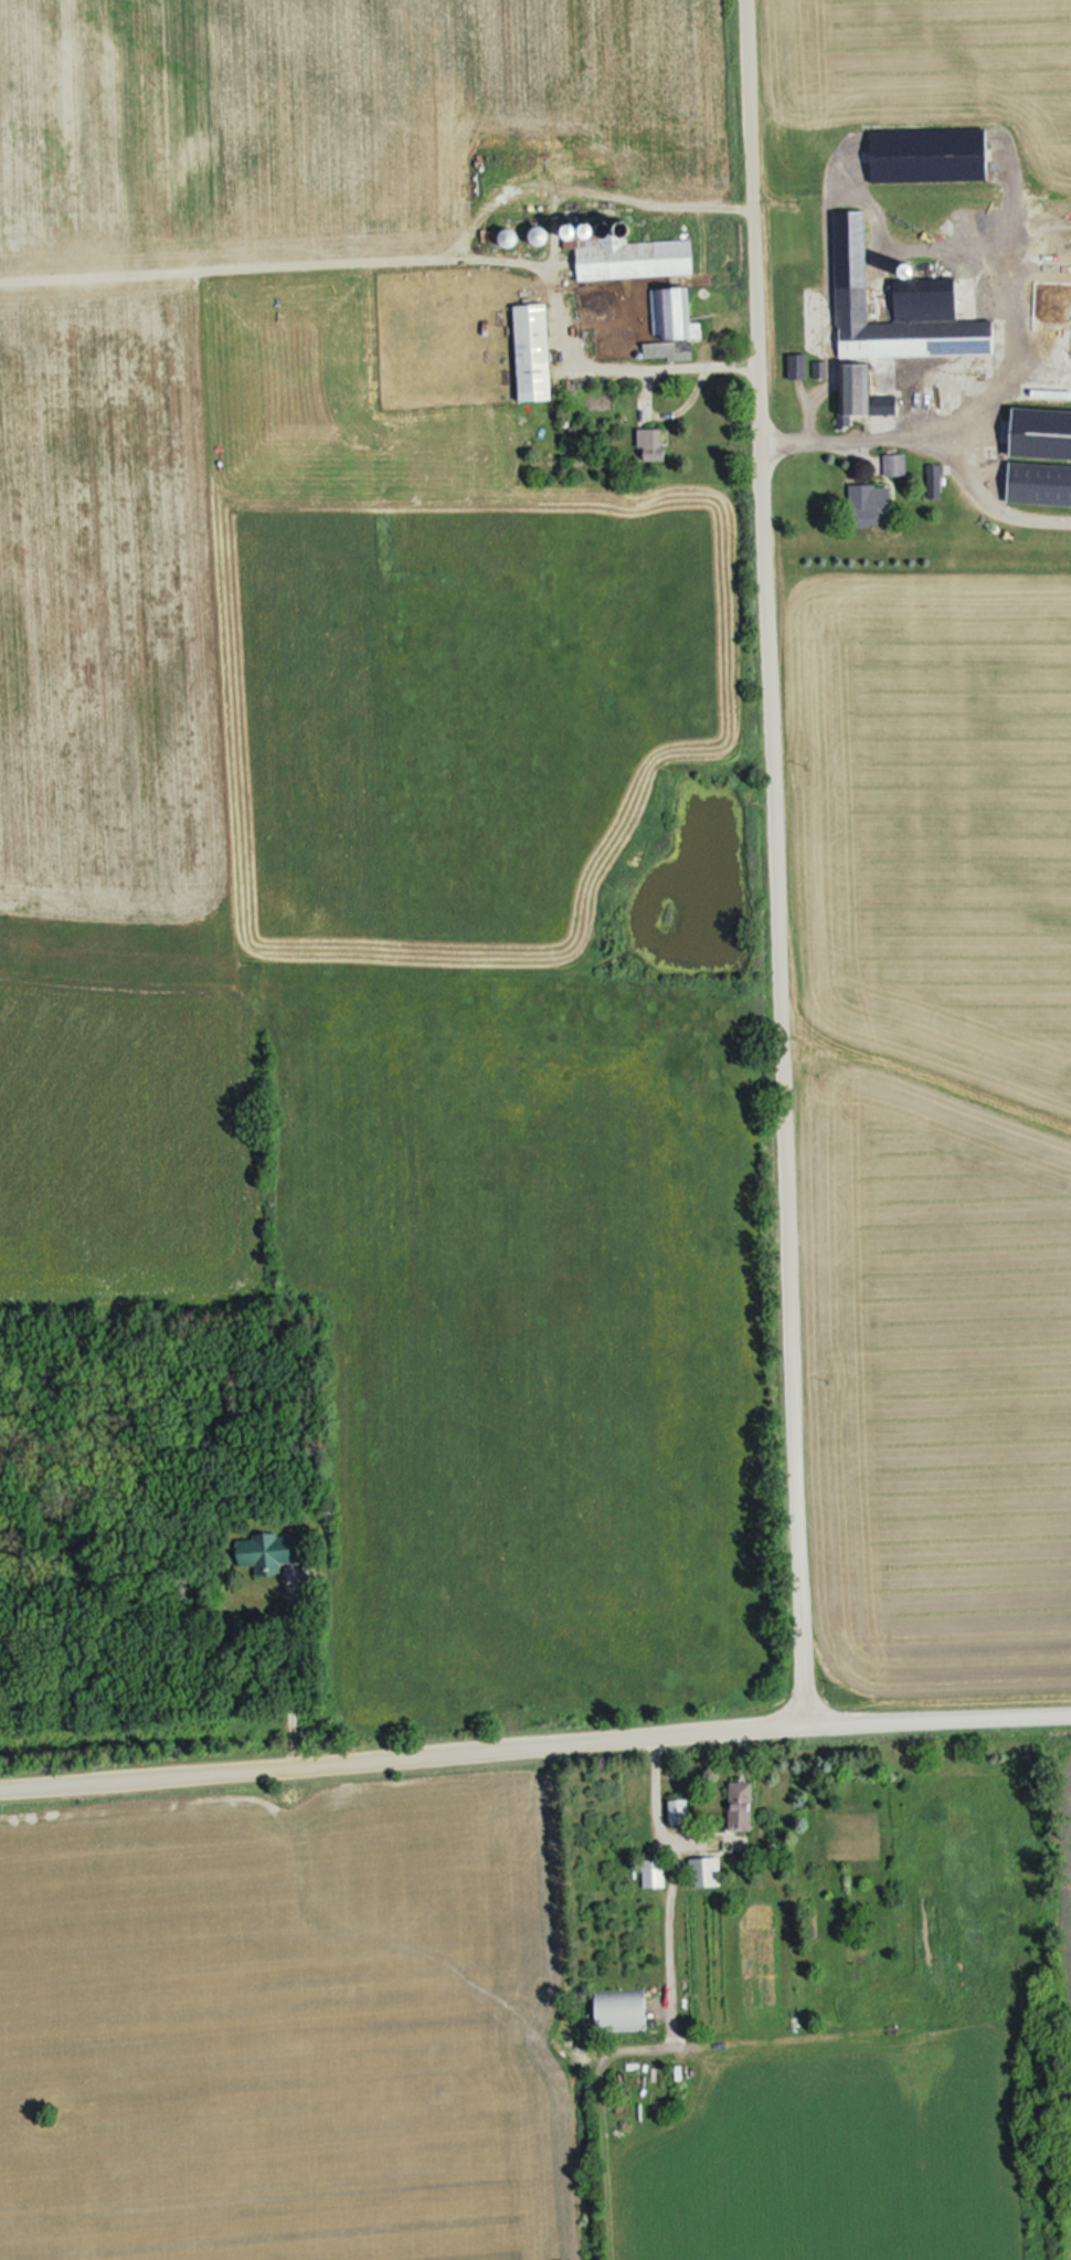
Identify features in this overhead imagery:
building: (634, 256)
building: (925, 289)
building: (674, 314)
building: (905, 331)
building: (668, 348)
building: (533, 351)
building: (797, 365)
building: (867, 389)
building: (653, 444)
building: (1040, 455)
building: (871, 504)
road: (772, 863)
building: (267, 1551)
road: (534, 1739)
building: (740, 1806)
building: (678, 1812)
building: (704, 1869)
road: (670, 1871)
building: (654, 1873)
building: (621, 2009)

